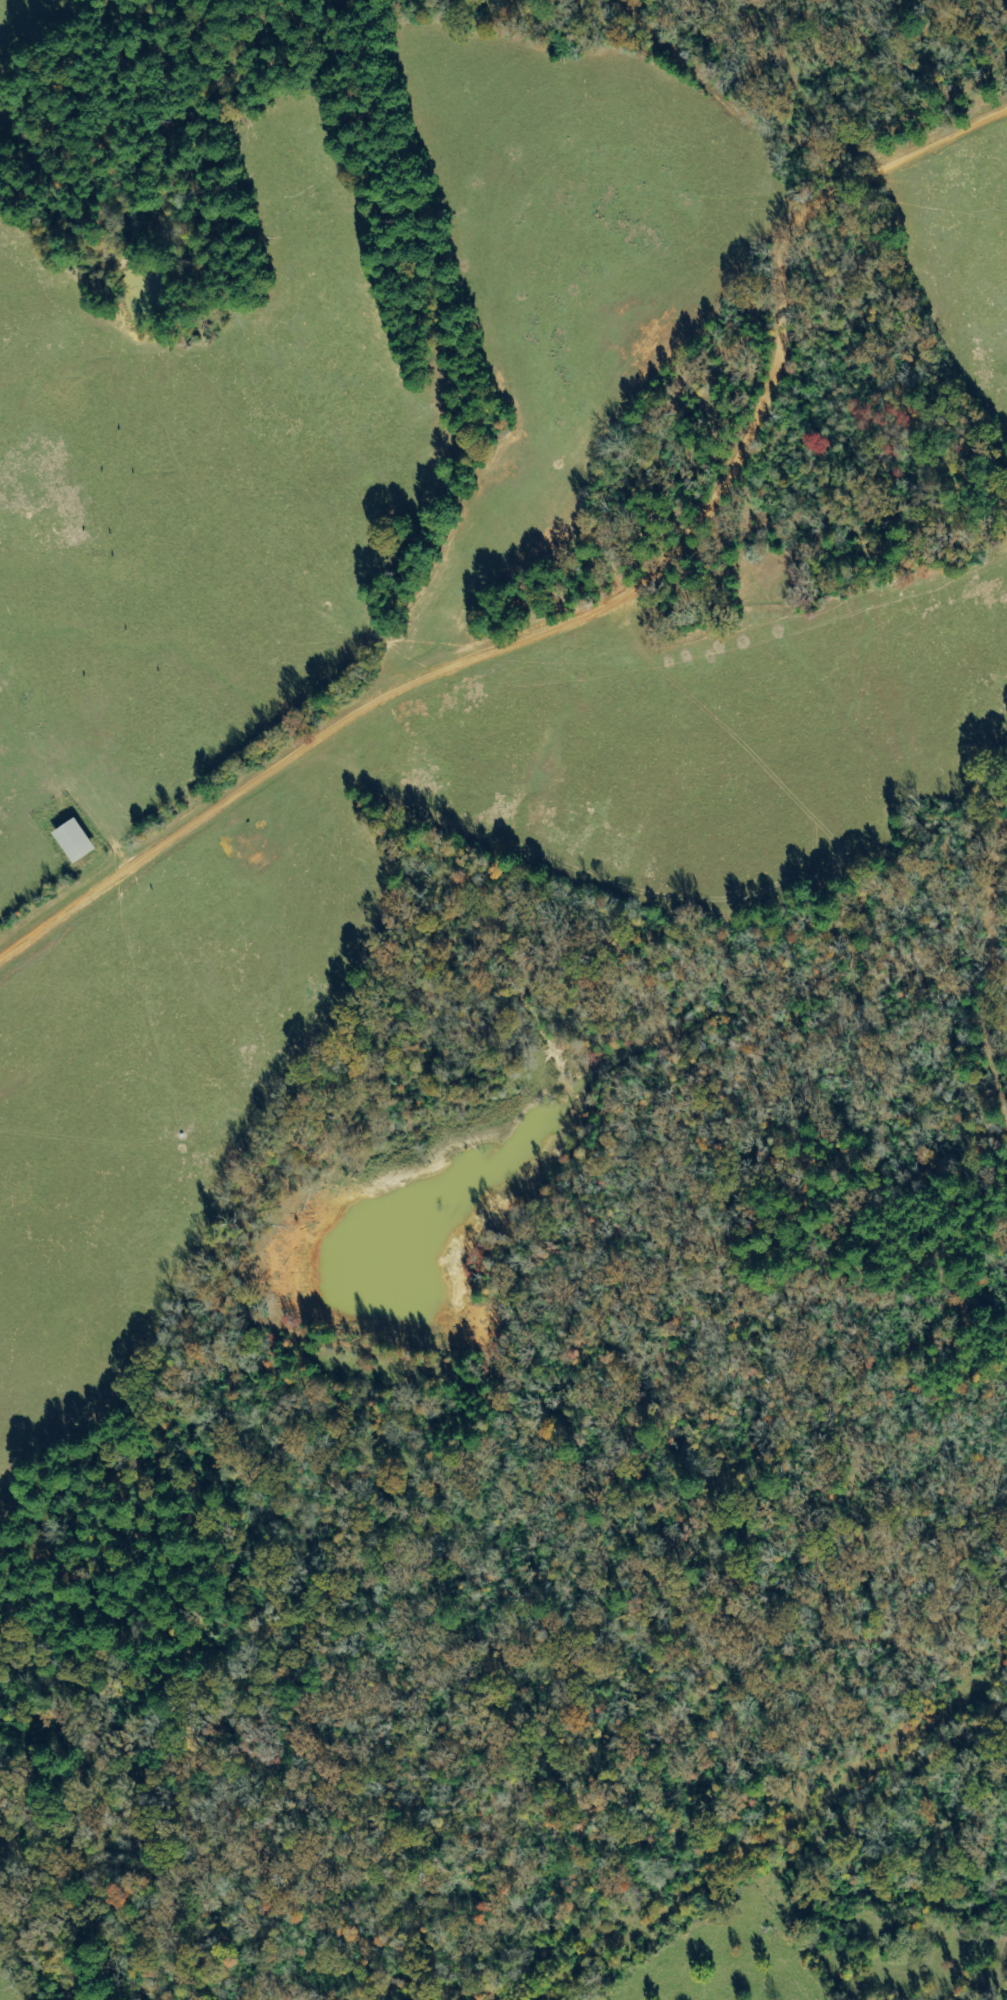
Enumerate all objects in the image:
road: (791, 179)
building: (77, 841)

